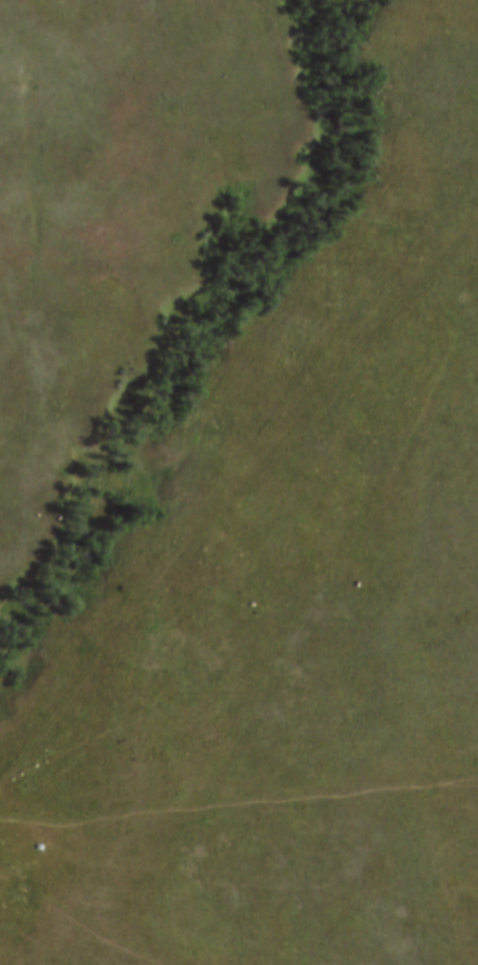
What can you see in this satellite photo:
road: (243, 500)

